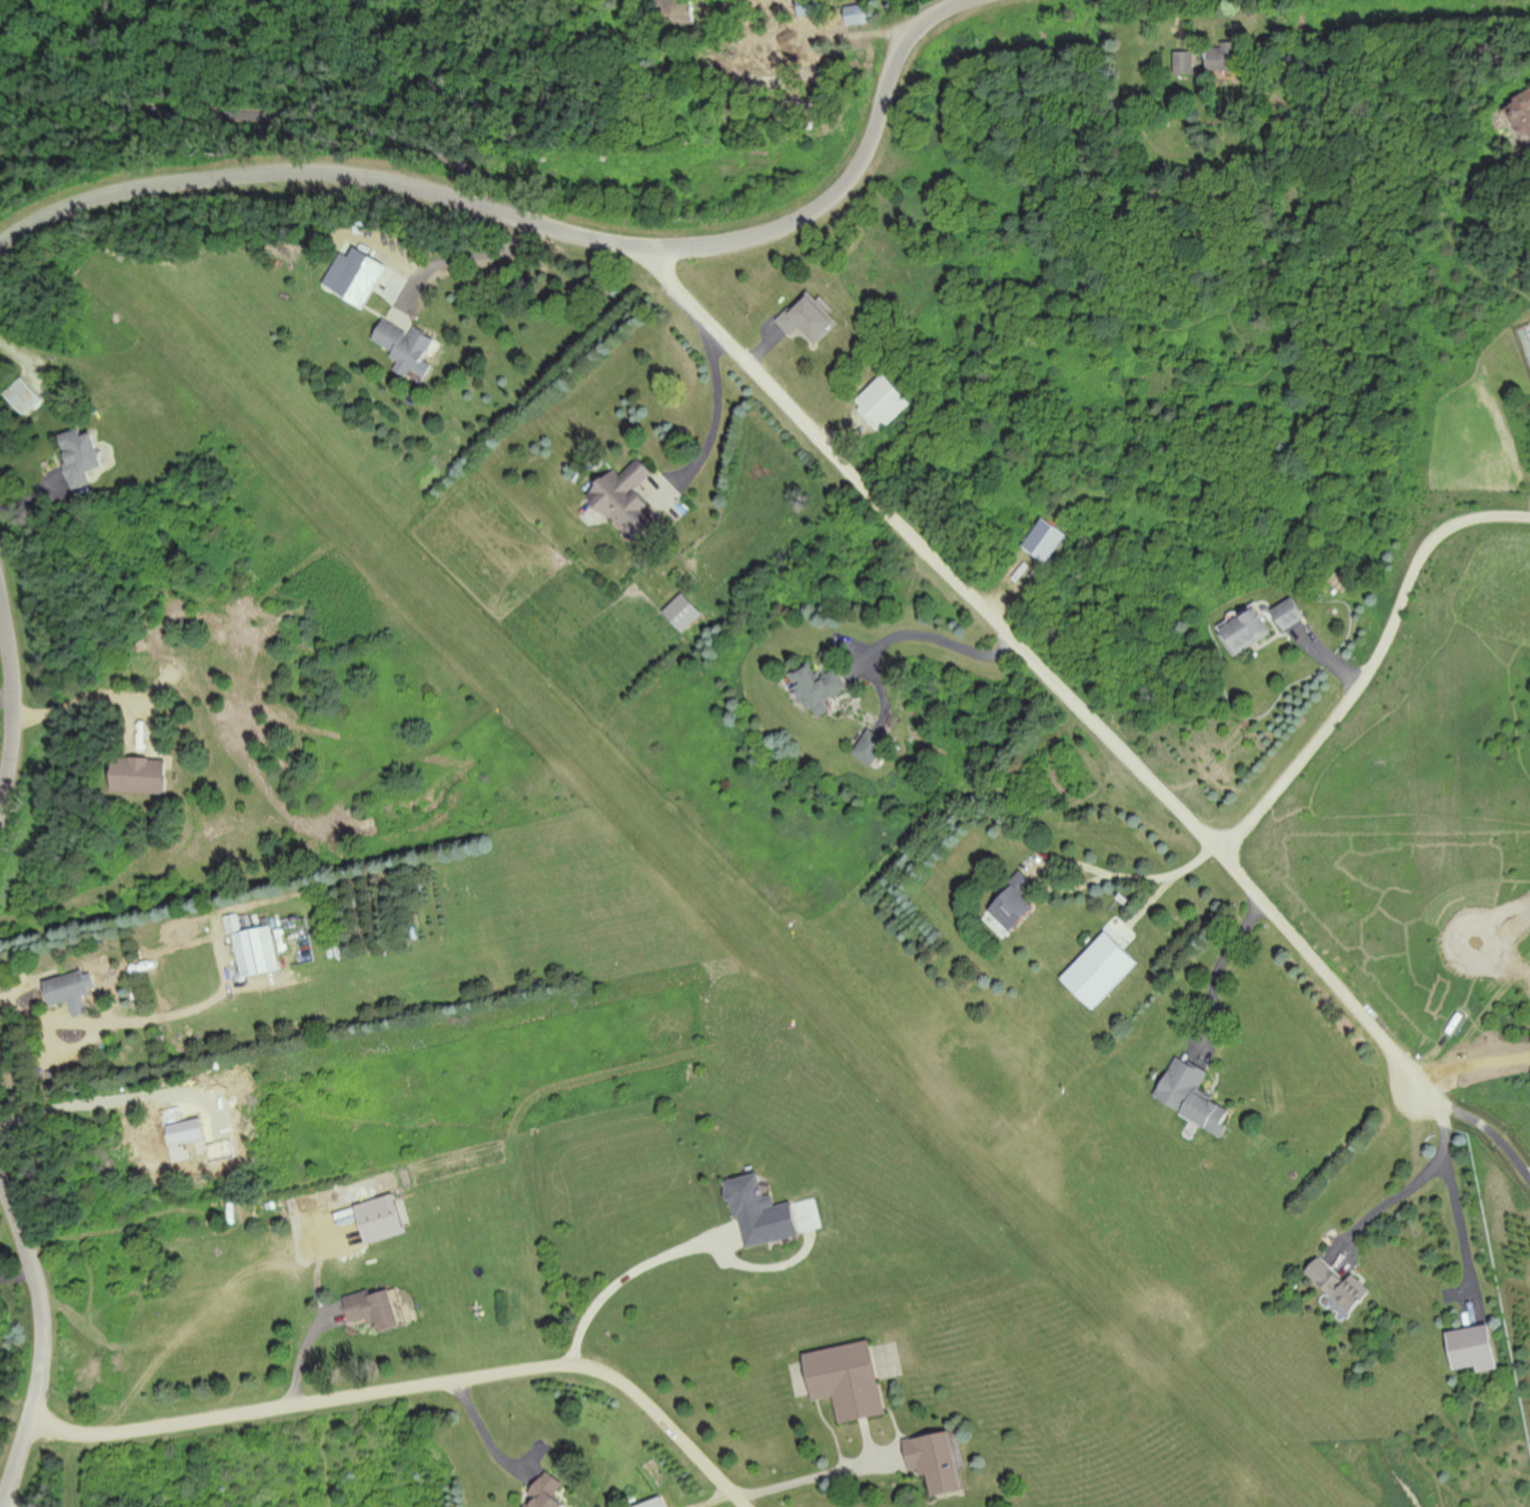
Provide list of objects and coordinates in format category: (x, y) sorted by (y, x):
road: (281, 119)
road: (547, 229)
road: (470, 258)
road: (717, 417)
airport taxiway: (479, 626)
road: (937, 638)
road: (1038, 665)
road: (1373, 667)
road: (22, 713)
road: (1078, 852)
airport: (708, 871)
road: (1223, 970)
road: (142, 1021)
road: (1482, 1114)
road: (1425, 1177)
airport runway: (1057, 1238)
road: (627, 1276)
building: (377, 1307)
road: (50, 1332)
road: (422, 1387)
road: (484, 1432)
building: (935, 1460)
road: (815, 1476)
building: (549, 1493)

